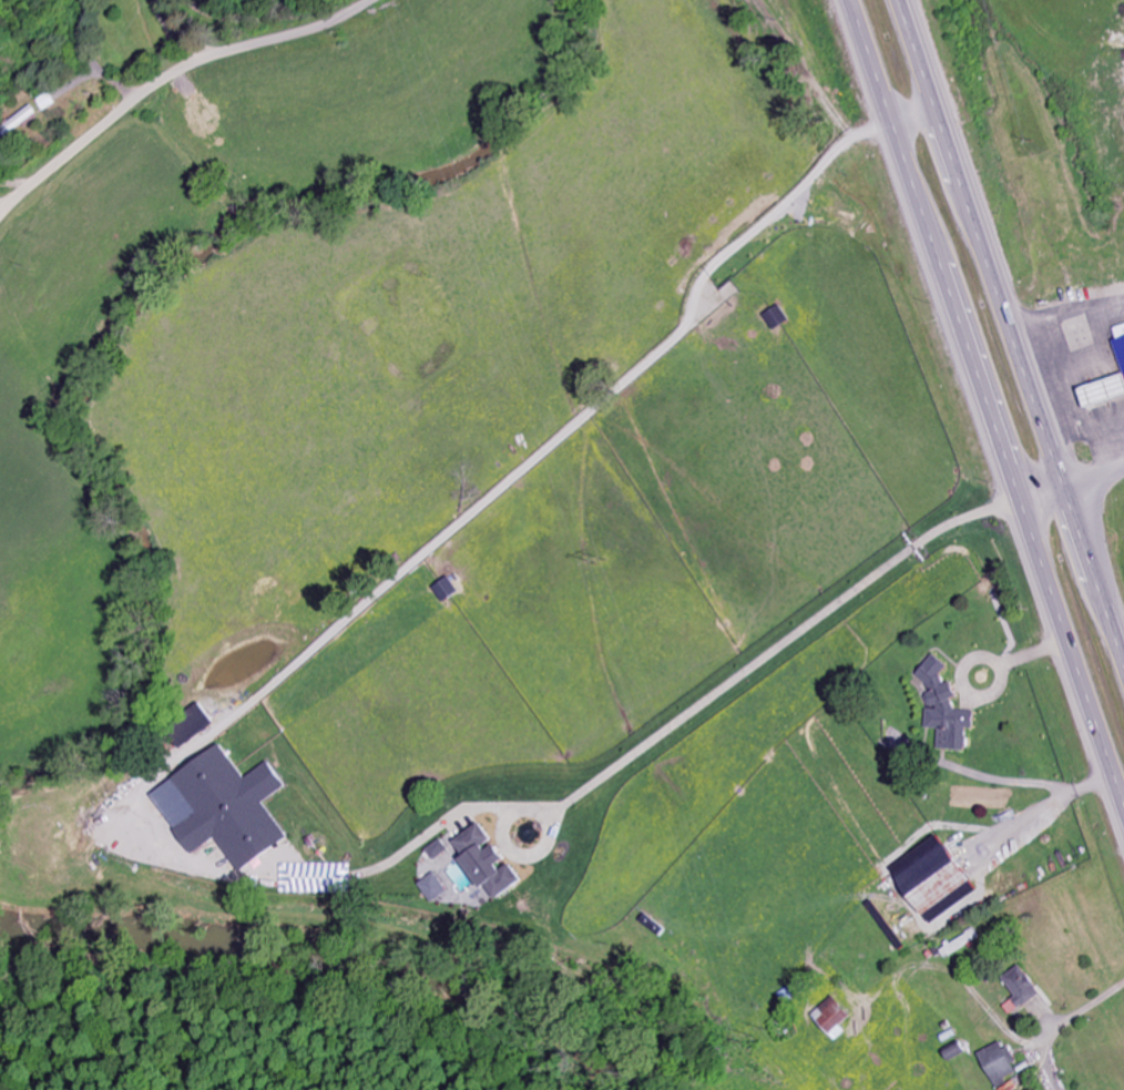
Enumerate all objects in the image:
road: (168, 79)
building: (780, 318)
road: (1013, 324)
building: (1123, 330)
building: (1123, 344)
building: (1111, 391)
road: (990, 403)
road: (1097, 479)
road: (1048, 500)
building: (451, 591)
building: (949, 709)
building: (231, 808)
building: (446, 849)
building: (497, 863)
building: (941, 879)
building: (441, 888)
building: (1026, 990)
building: (839, 1017)
building: (961, 1052)
building: (1004, 1064)

